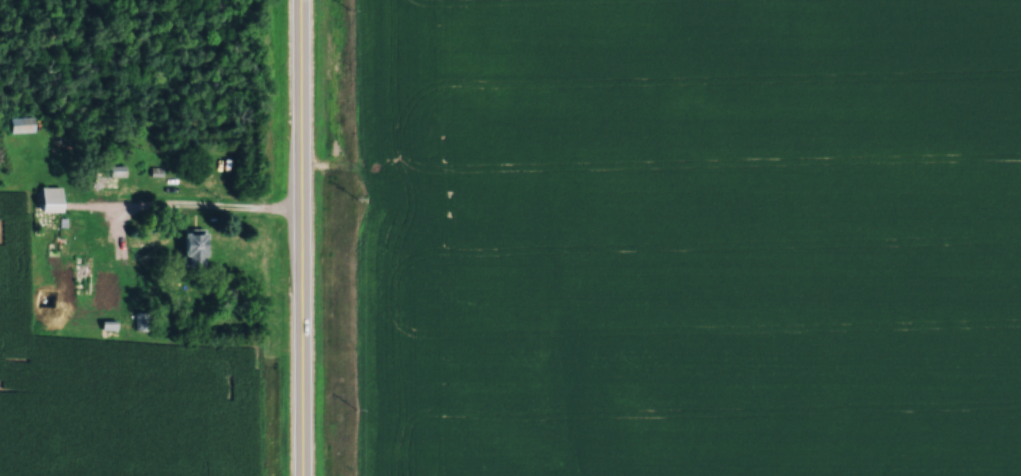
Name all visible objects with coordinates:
building: (47, 196)
road: (240, 209)
road: (299, 238)
building: (191, 247)
building: (67, 281)
building: (105, 289)

